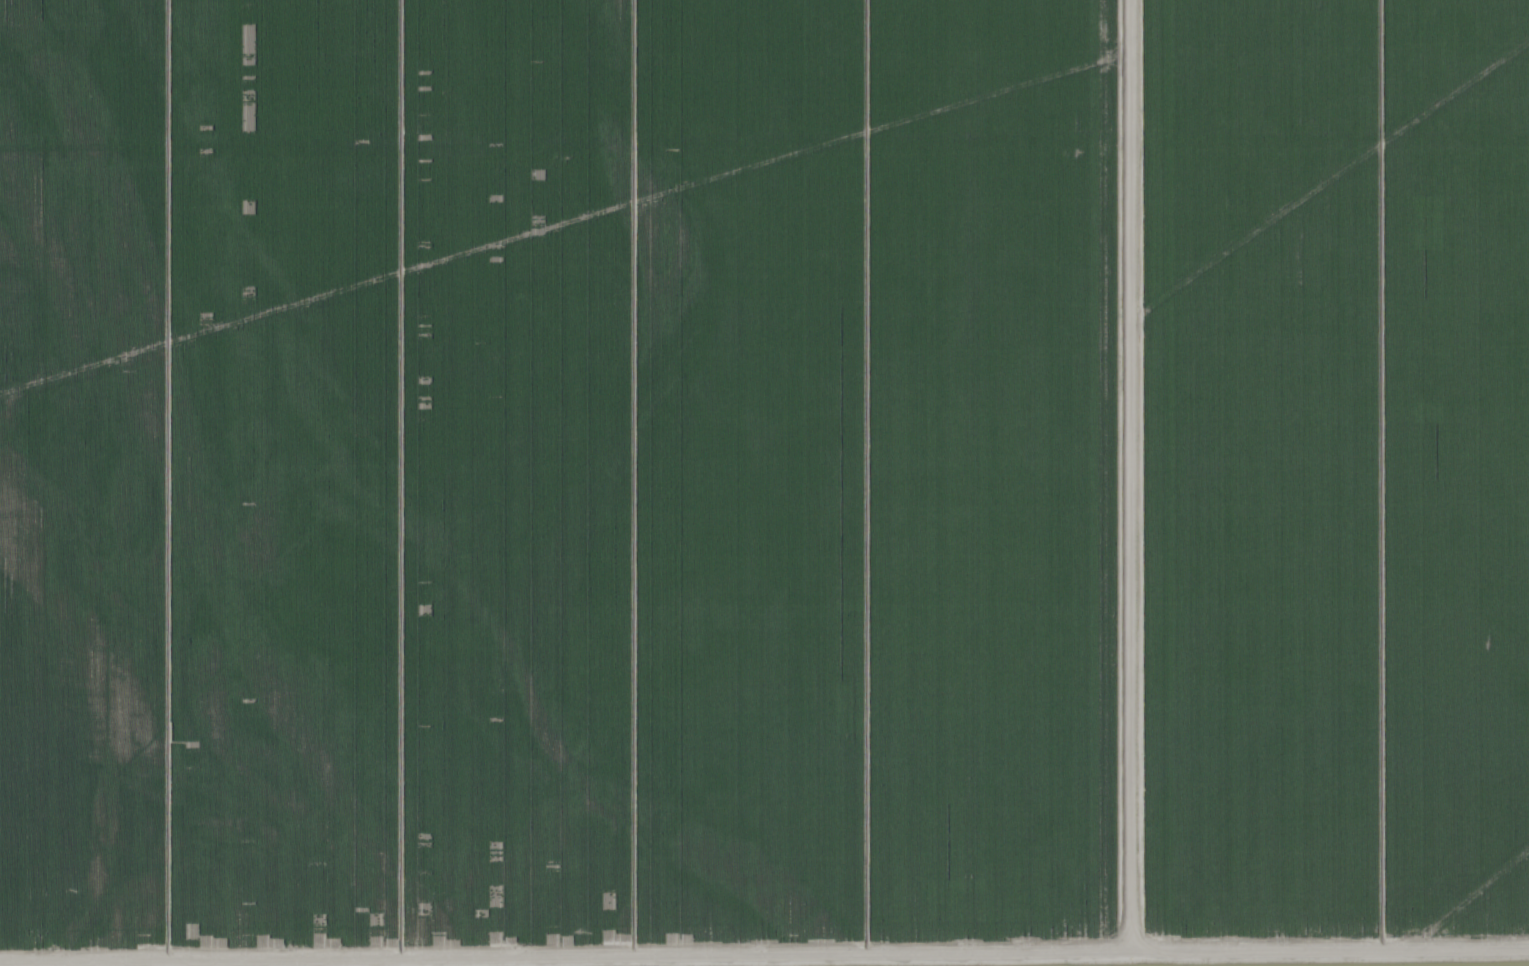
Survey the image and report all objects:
road: (1120, 476)

